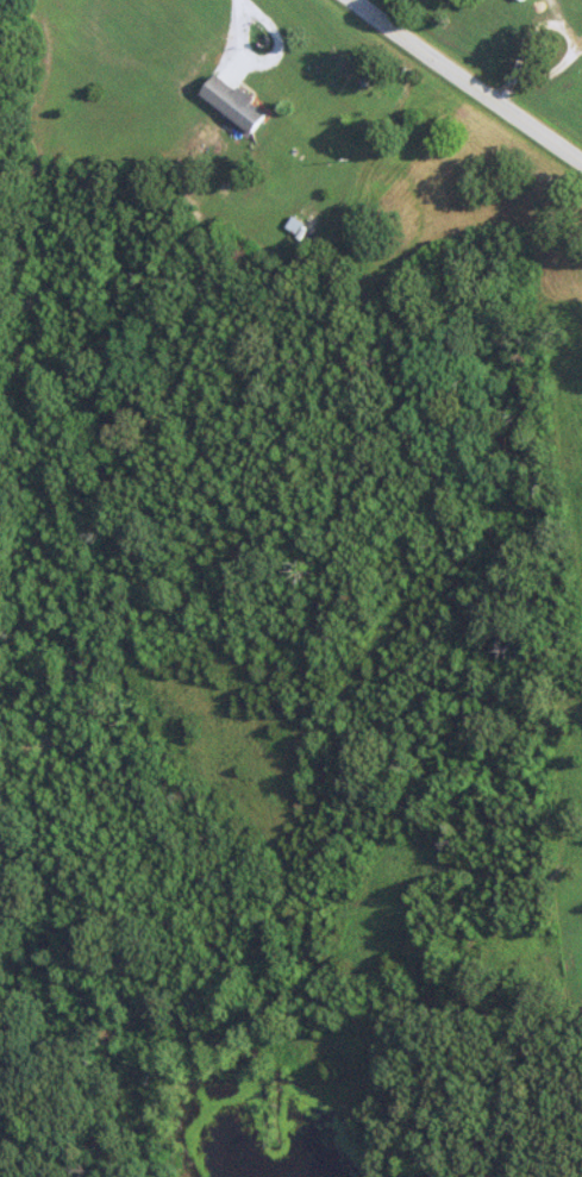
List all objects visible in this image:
building: (521, 0)
road: (243, 43)
road: (465, 82)
building: (231, 104)

